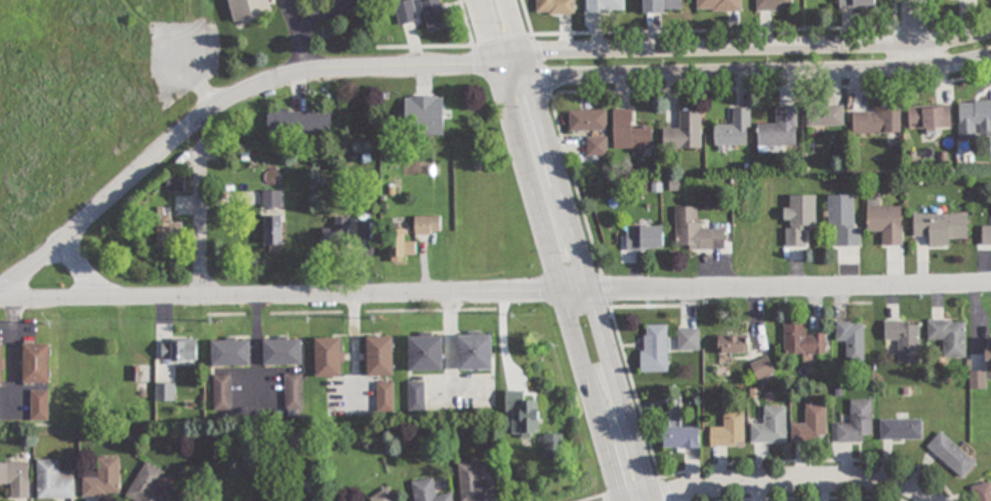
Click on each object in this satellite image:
park: (2, 0)
building: (856, 4)
building: (719, 5)
building: (773, 5)
building: (605, 6)
building: (662, 6)
building: (555, 7)
building: (248, 10)
building: (406, 12)
building: (434, 14)
street lamp: (500, 22)
road: (502, 32)
road: (915, 33)
road: (750, 47)
road: (750, 72)
road: (224, 102)
street lamp: (517, 106)
building: (424, 116)
building: (825, 116)
building: (929, 119)
building: (974, 119)
building: (588, 121)
building: (877, 122)
building: (299, 123)
building: (734, 130)
building: (780, 130)
building: (685, 132)
building: (630, 134)
building: (596, 147)
building: (175, 183)
building: (271, 199)
building: (799, 220)
building: (844, 220)
road: (199, 221)
building: (886, 223)
building: (427, 225)
building: (940, 227)
building: (274, 229)
building: (337, 231)
building: (695, 231)
building: (168, 232)
building: (986, 235)
building: (644, 239)
building: (401, 245)
street lamp: (560, 250)
road: (89, 277)
road: (587, 281)
road: (561, 284)
road: (791, 289)
road: (295, 297)
street lamp: (584, 324)
building: (950, 336)
building: (688, 339)
building: (904, 339)
building: (851, 340)
building: (802, 342)
building: (733, 344)
building: (654, 348)
building: (179, 349)
building: (425, 351)
building: (474, 351)
building: (230, 352)
building: (282, 352)
building: (379, 356)
building: (328, 357)
building: (36, 364)
building: (1, 365)
building: (762, 370)
building: (982, 371)
building: (165, 392)
building: (221, 393)
building: (415, 396)
building: (39, 405)
building: (529, 419)
building: (856, 422)
building: (810, 424)
building: (770, 428)
building: (901, 428)
building: (729, 430)
building: (681, 438)
building: (553, 445)
building: (951, 454)
street lamp: (629, 468)
building: (15, 480)
building: (103, 480)
building: (53, 482)
road: (797, 482)
building: (474, 484)
building: (148, 485)
building: (427, 492)
building: (982, 492)
building: (384, 496)
road: (592, 497)

